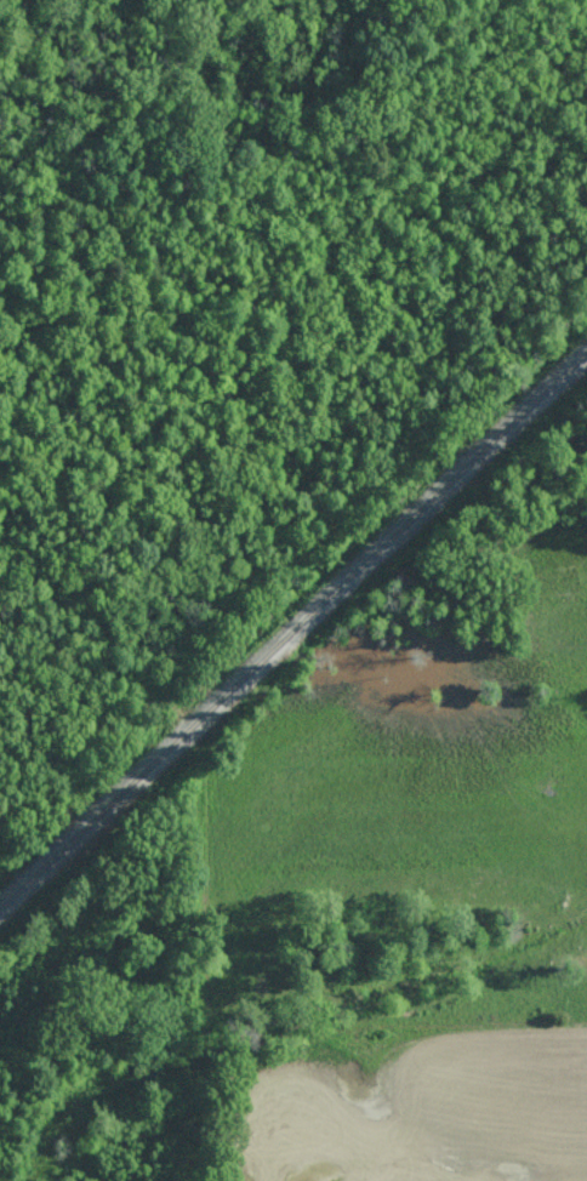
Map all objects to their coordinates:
railway: (293, 629)

